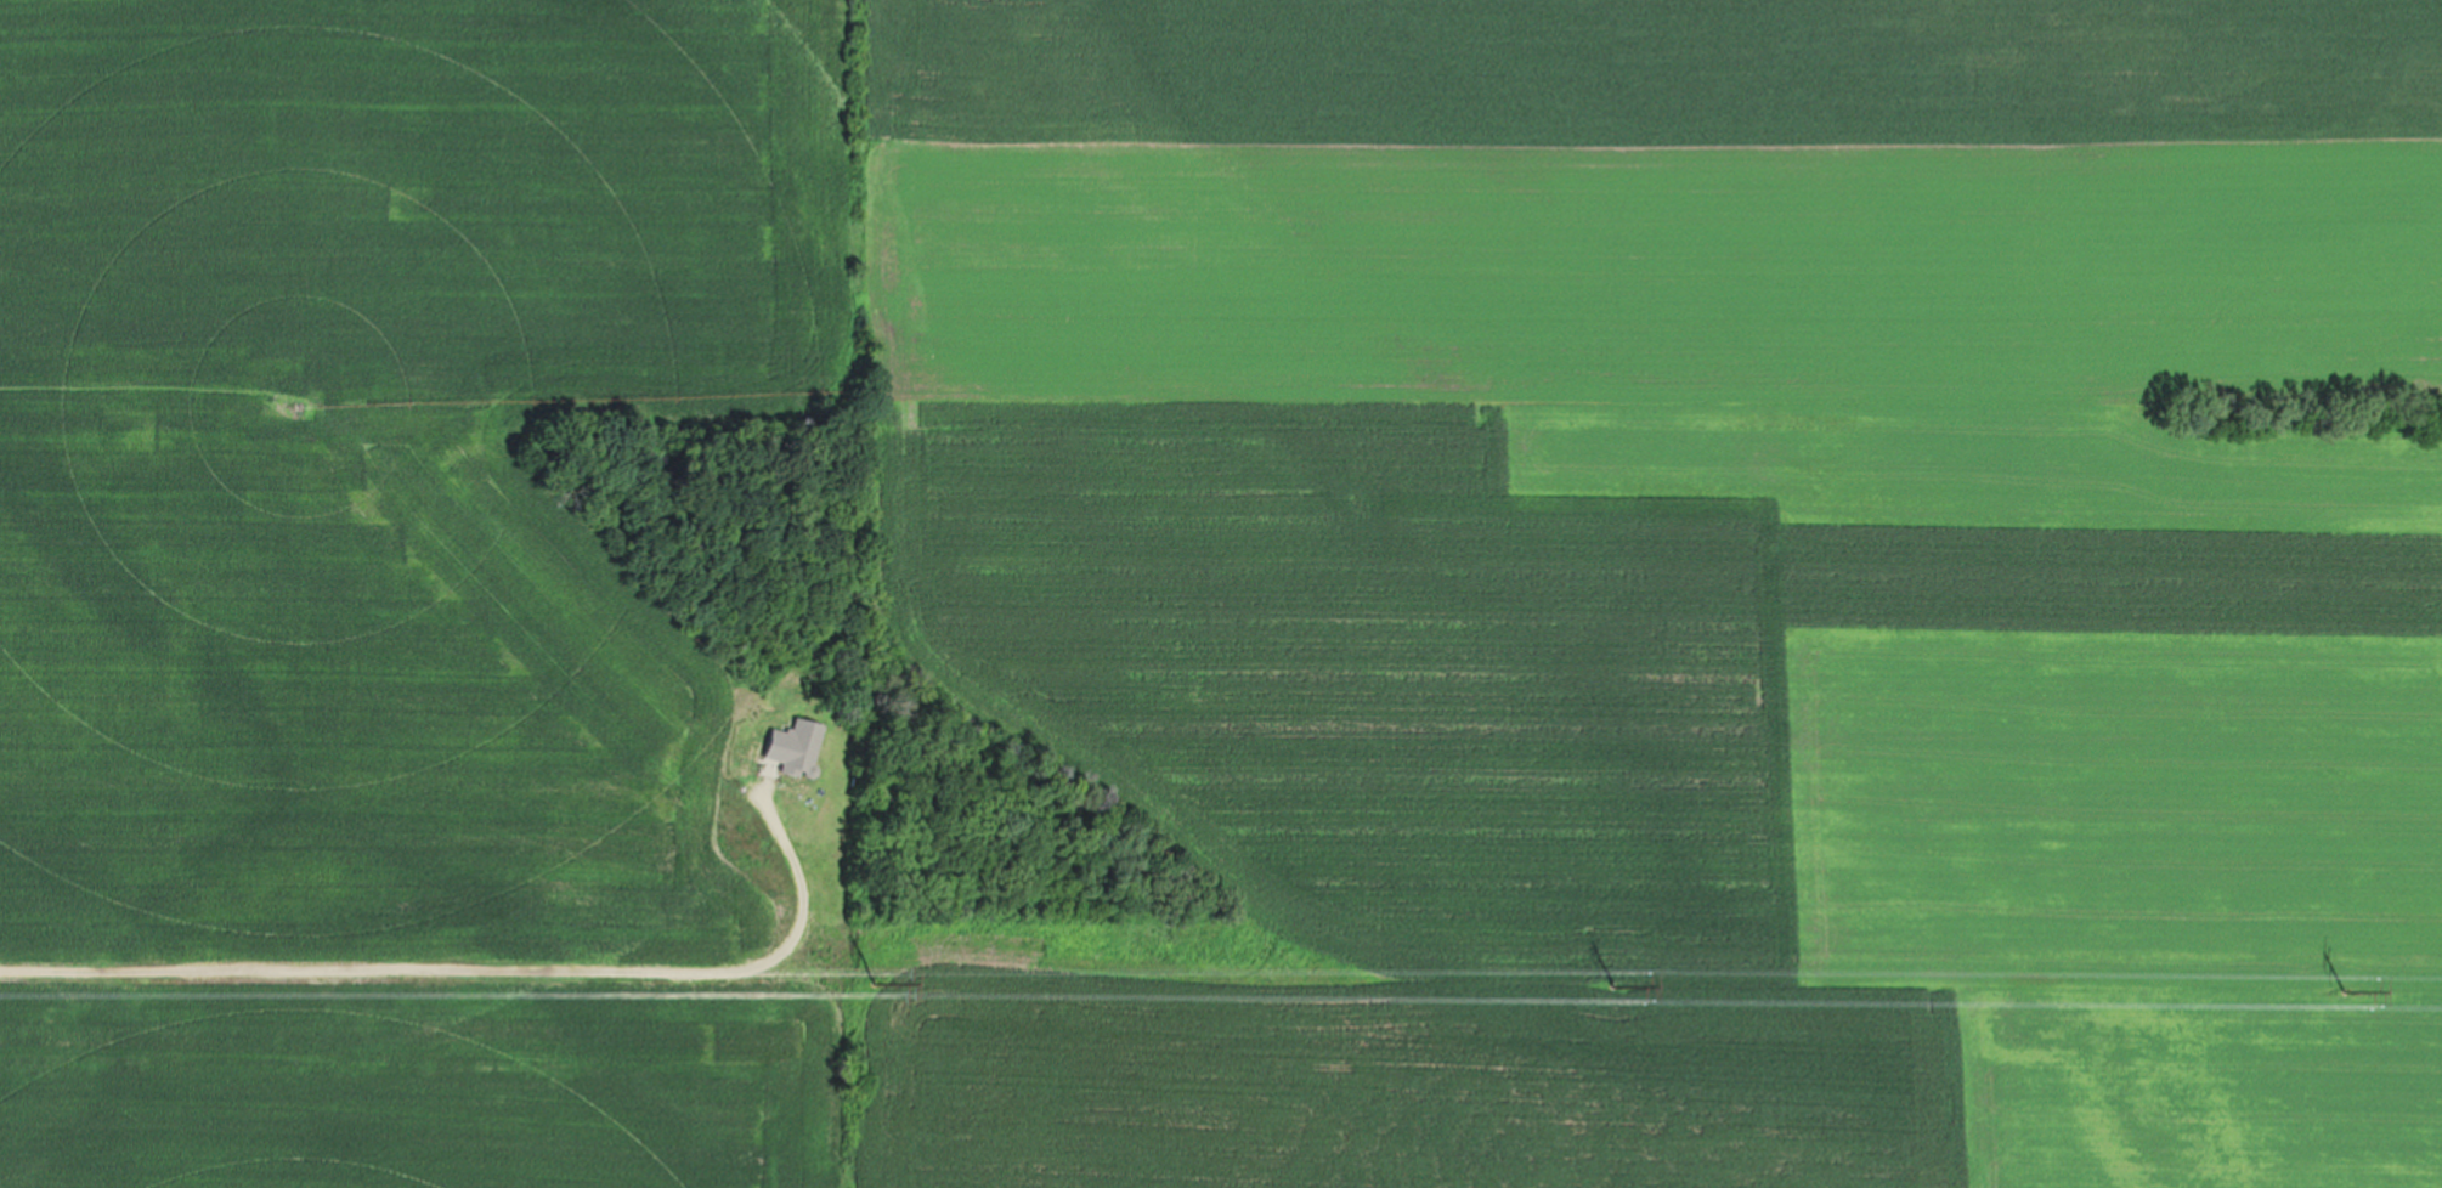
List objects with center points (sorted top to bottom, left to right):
road: (487, 958)
power tower: (876, 975)
power tower: (1618, 978)
power tower: (2351, 983)

